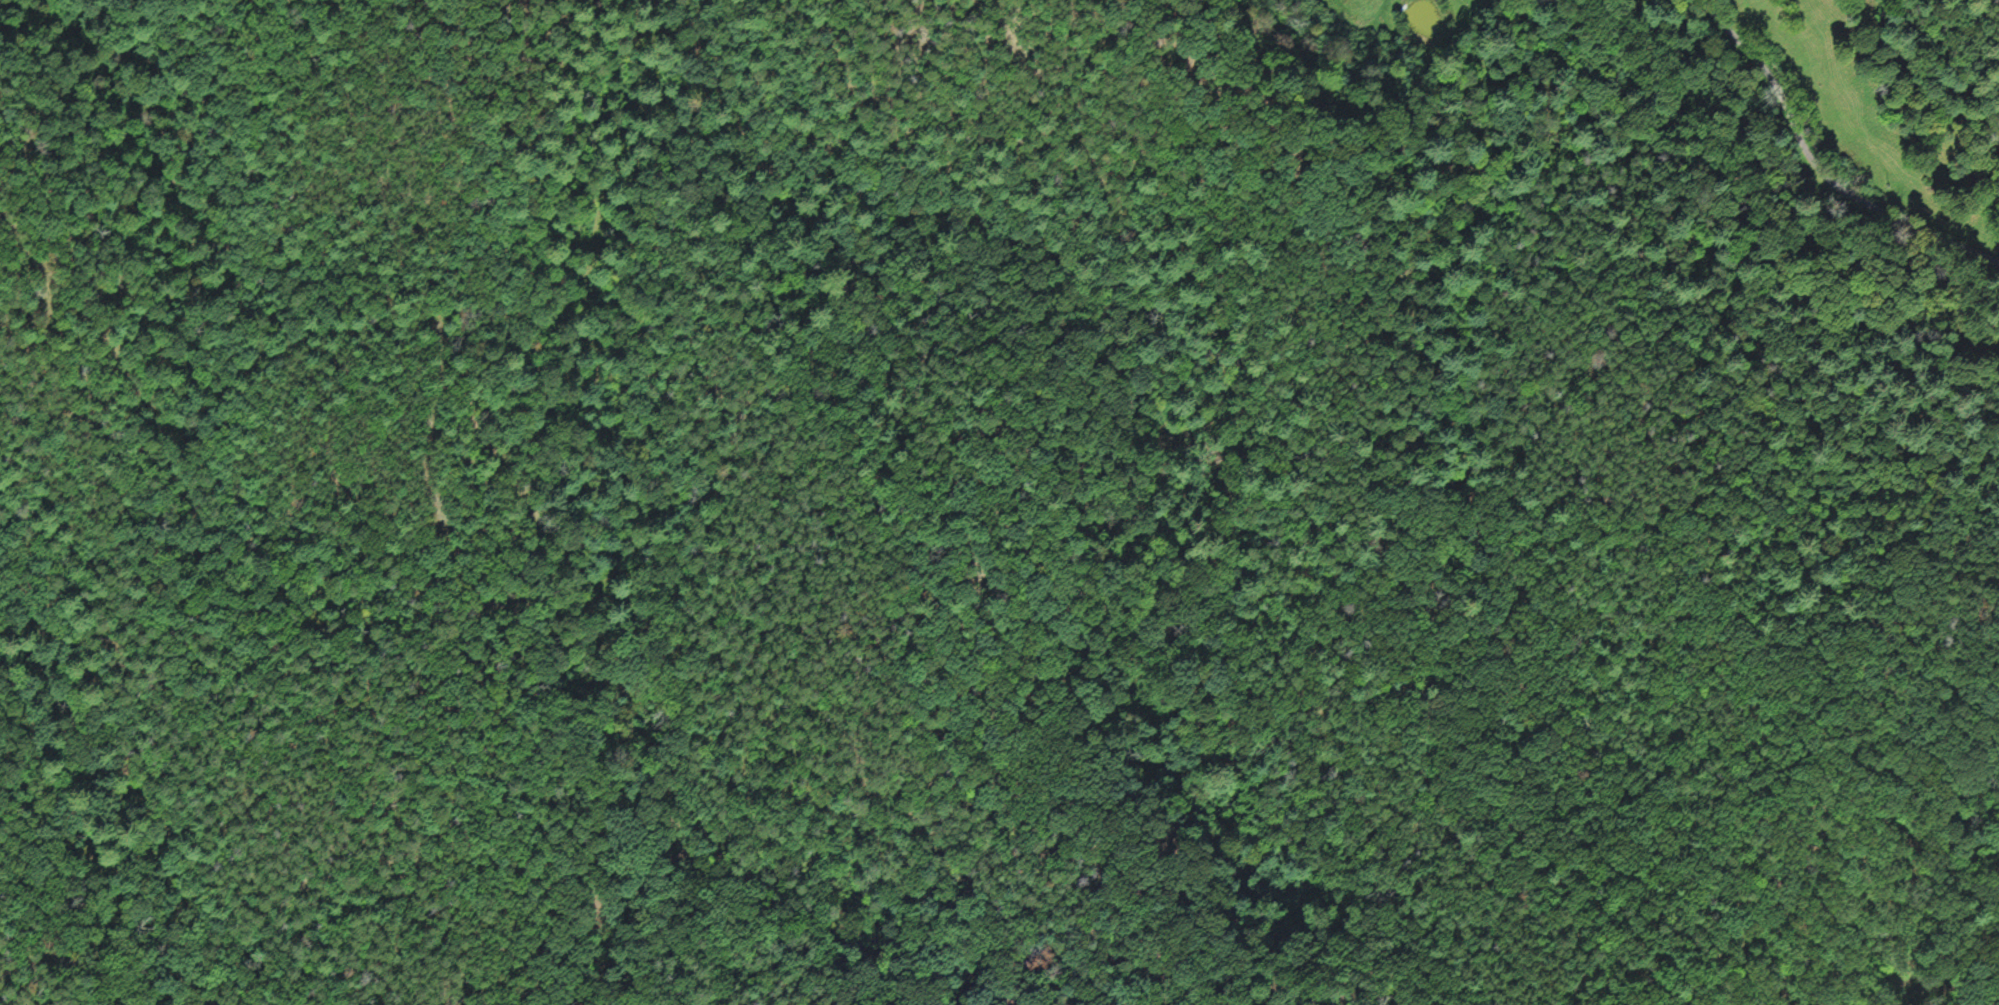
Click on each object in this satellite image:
road: (1818, 168)

